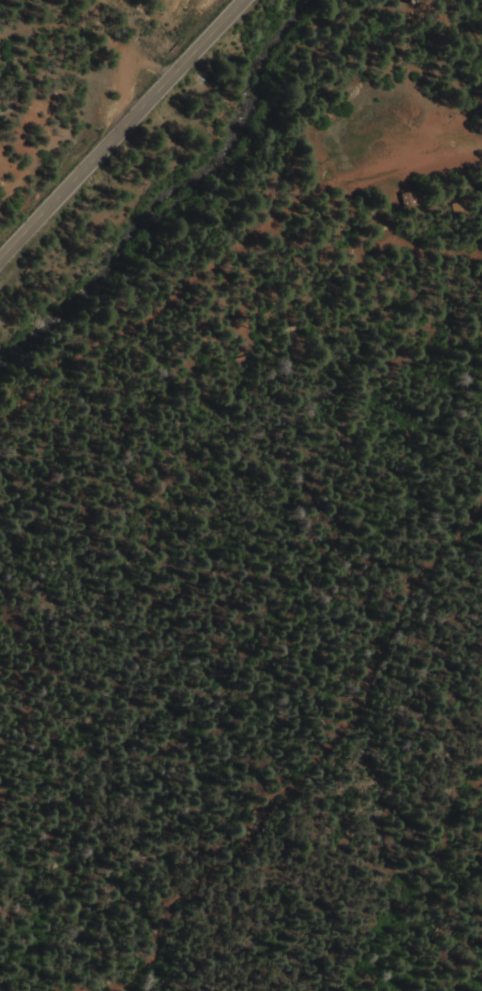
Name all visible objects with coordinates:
road: (118, 129)

